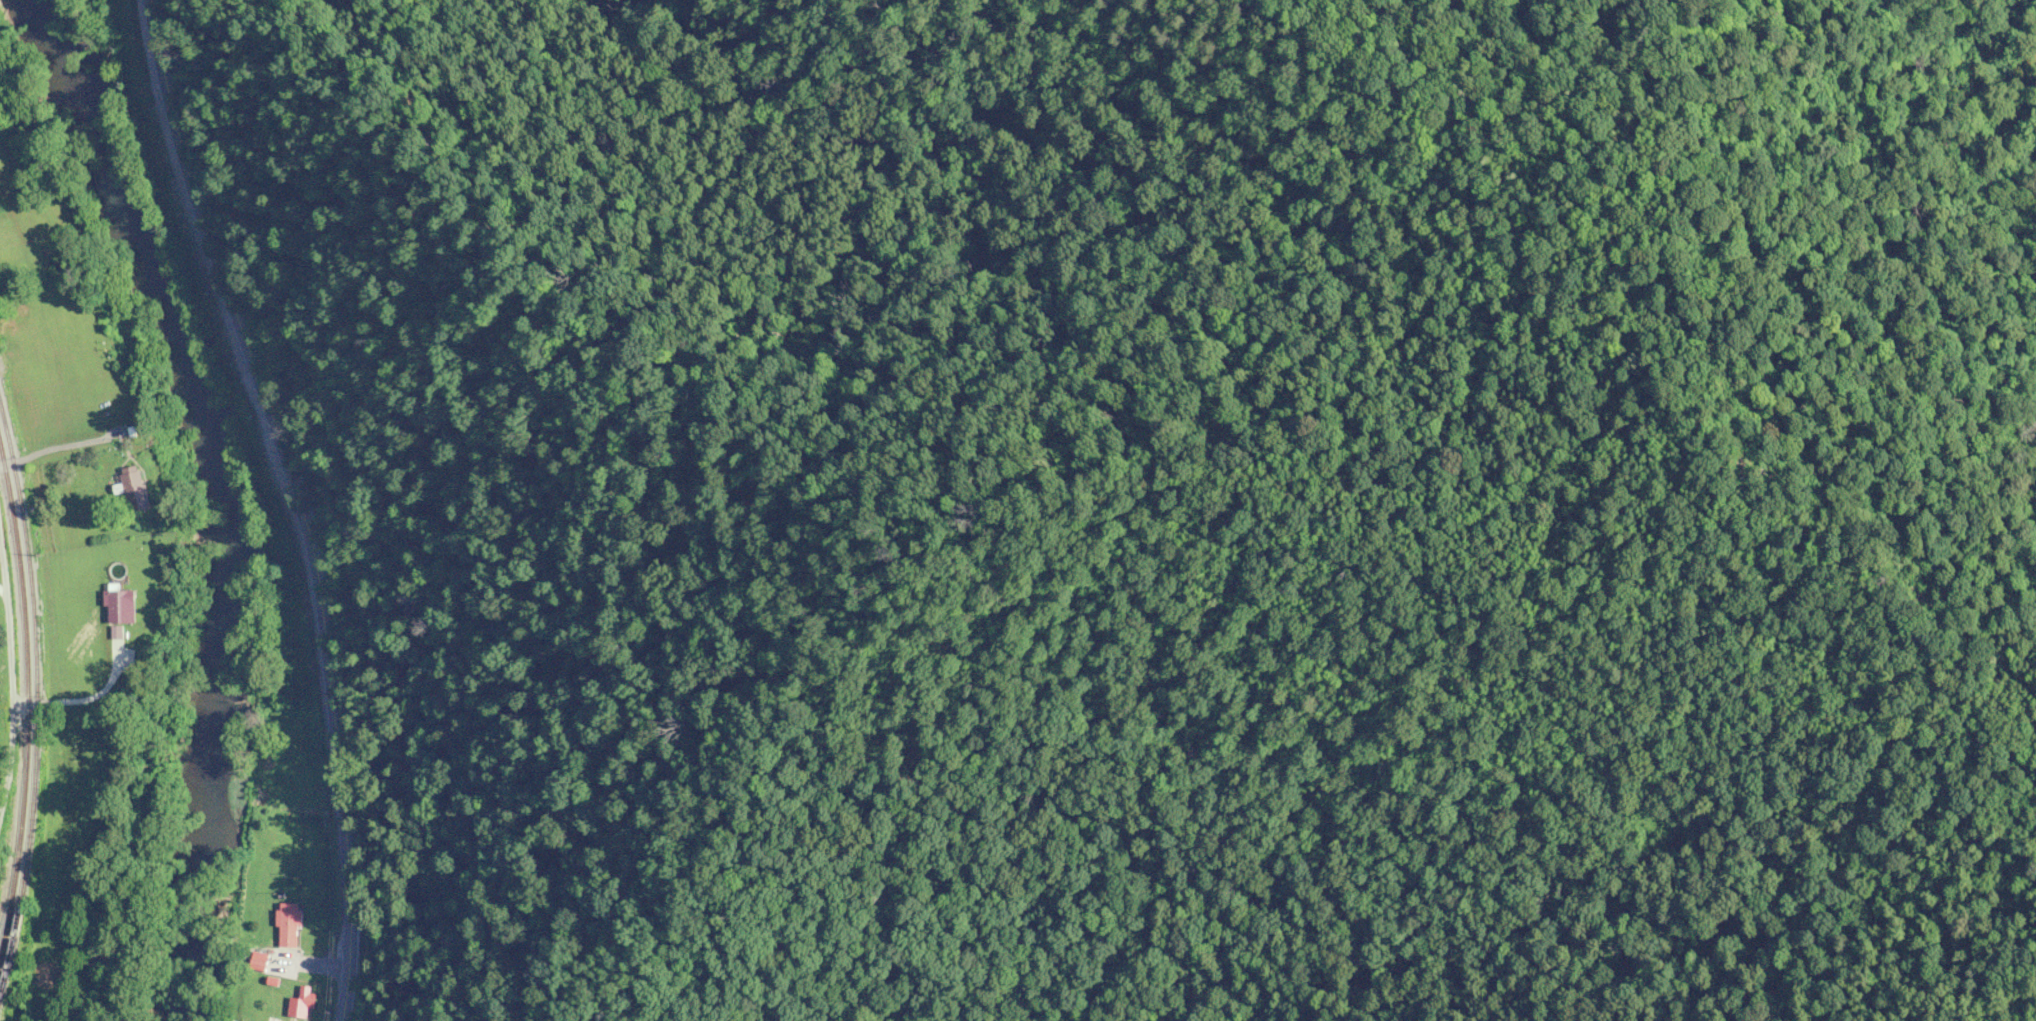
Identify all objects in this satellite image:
building: (135, 489)
river: (199, 496)
road: (280, 503)
building: (124, 607)
railway: (37, 683)
road: (11, 697)
building: (282, 925)
building: (296, 1002)

